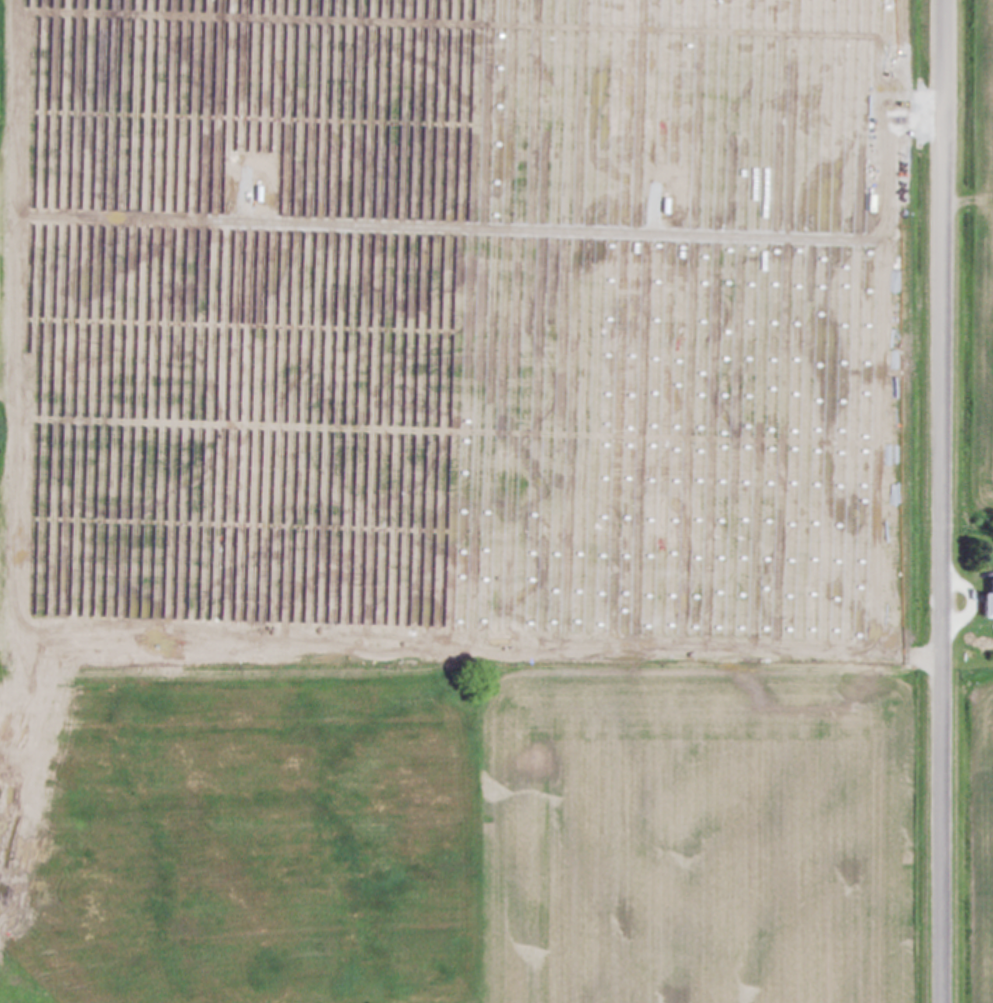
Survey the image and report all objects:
road: (941, 501)
building: (986, 602)

